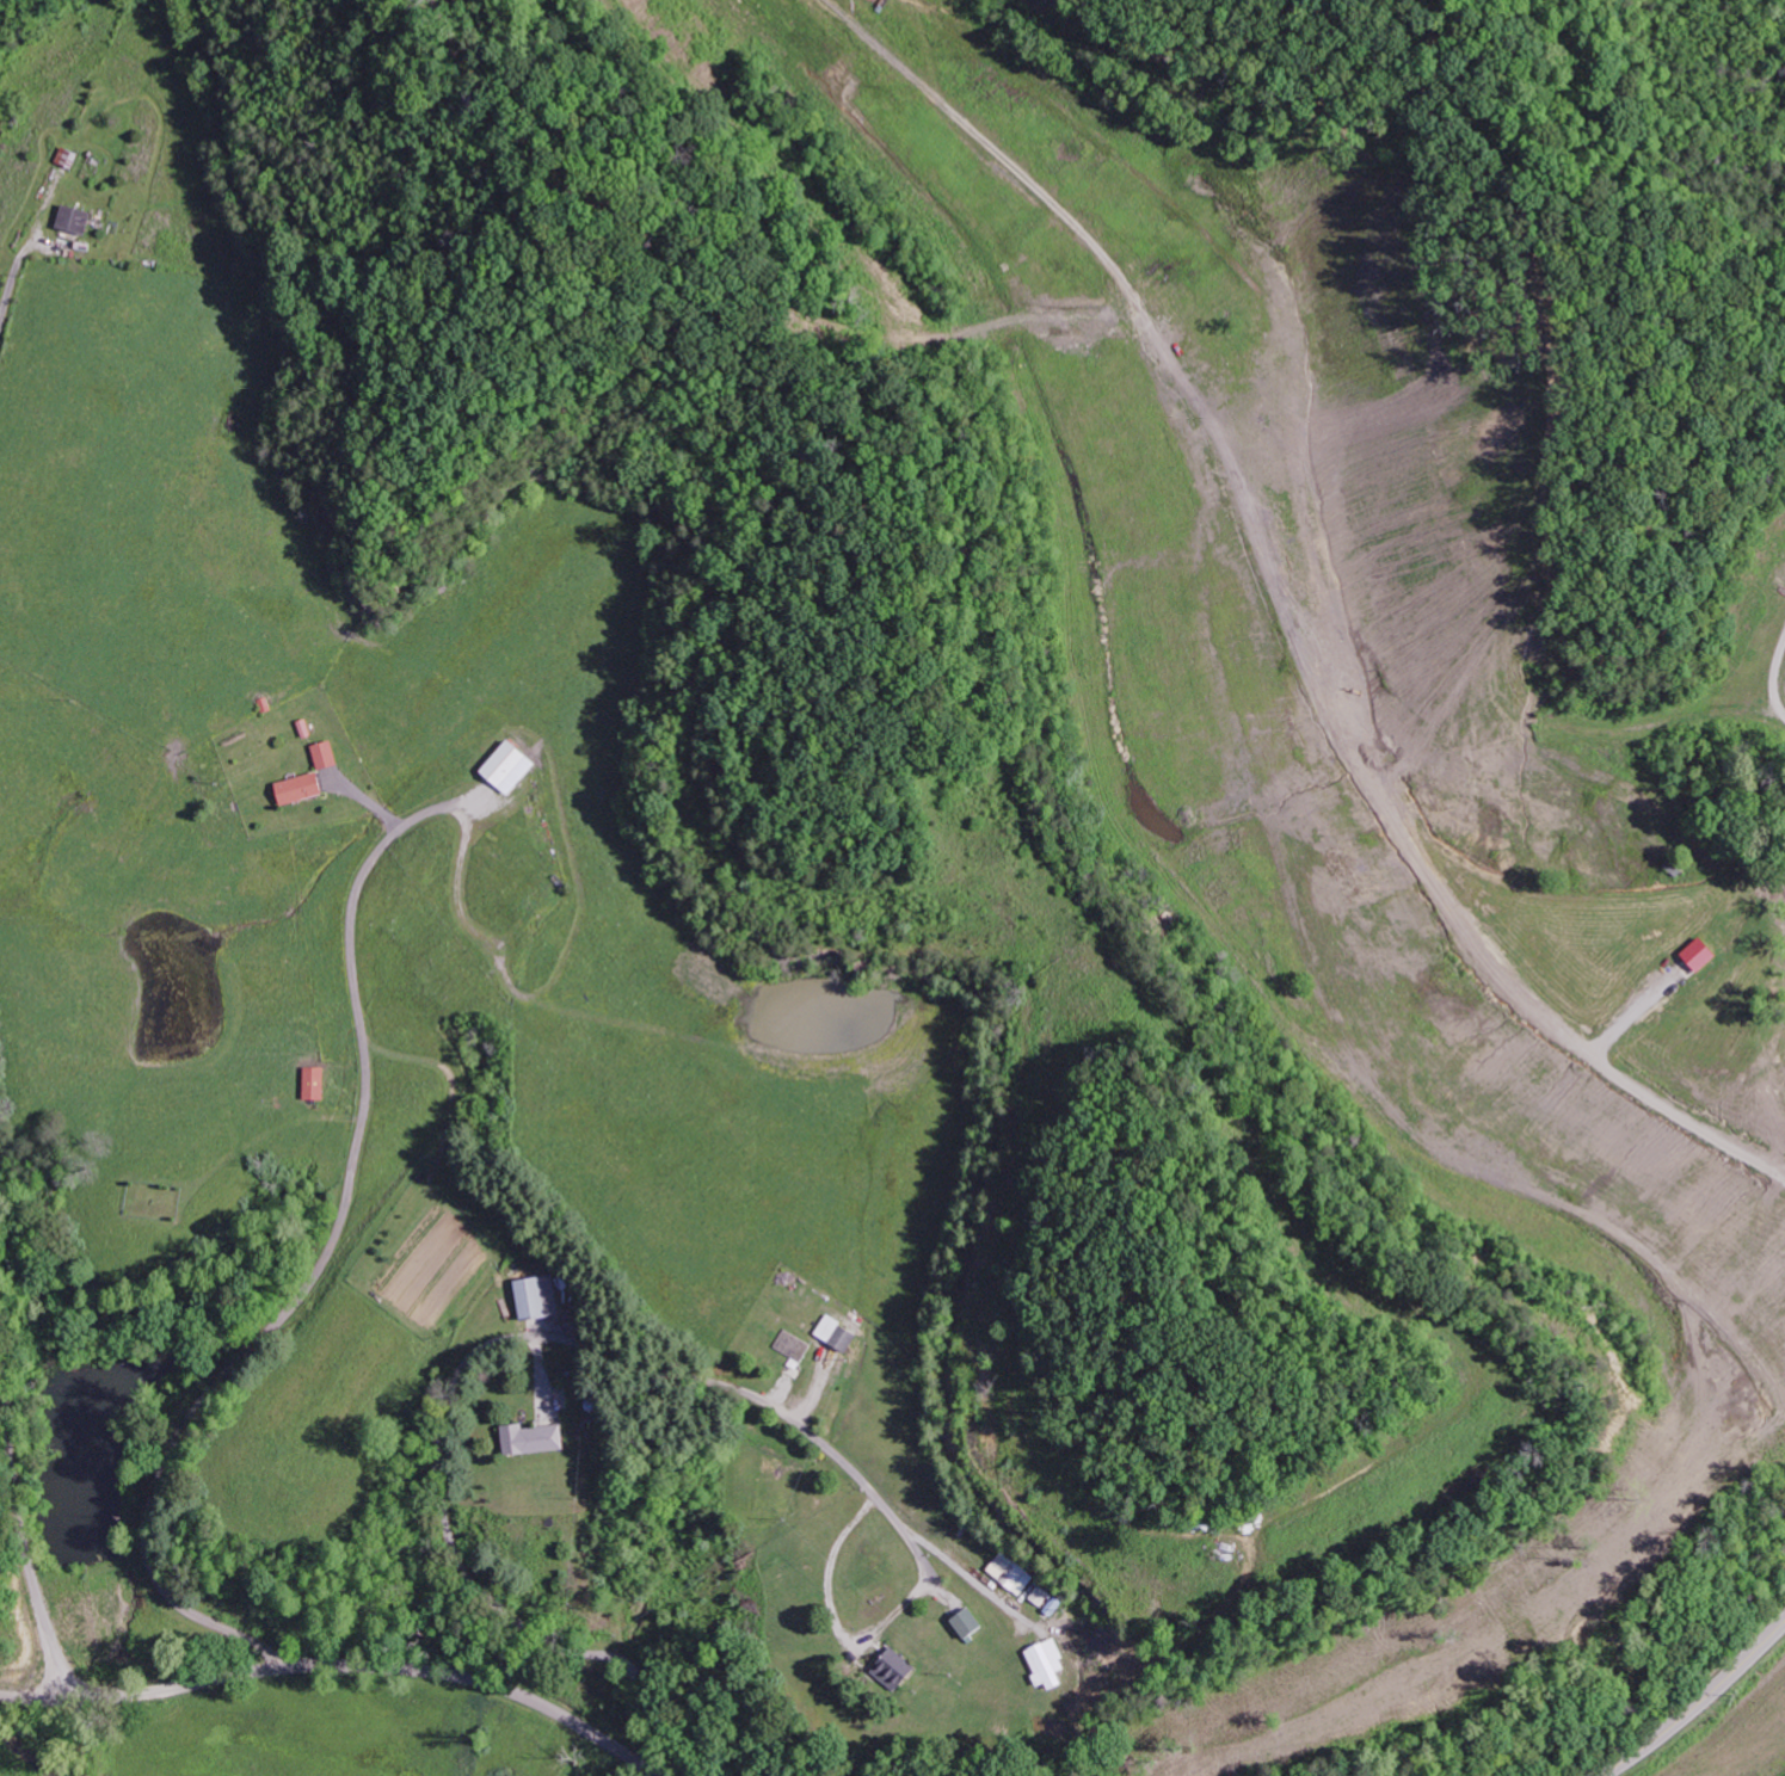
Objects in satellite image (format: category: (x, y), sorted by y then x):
building: (80, 220)
building: (327, 756)
building: (505, 766)
building: (304, 789)
building: (1693, 954)
building: (313, 1081)
road: (322, 1262)
building: (535, 1296)
building: (832, 1333)
road: (485, 1349)
building: (528, 1438)
road: (32, 1529)
building: (1007, 1574)
road: (351, 1661)
building: (1041, 1663)
building: (890, 1667)
road: (1698, 1702)

